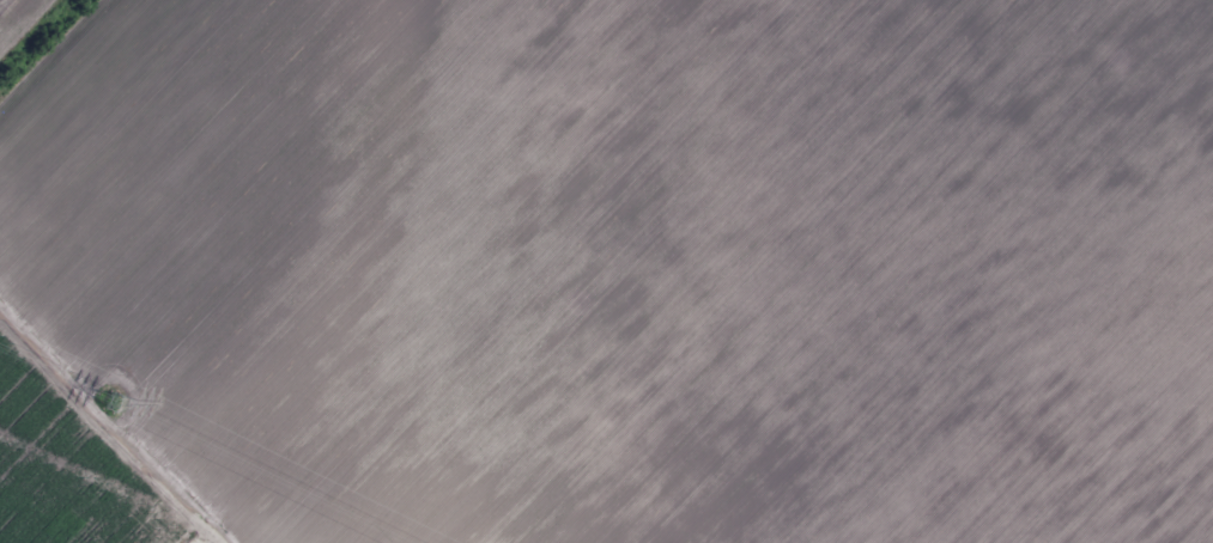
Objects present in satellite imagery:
road: (96, 352)
power tower: (113, 399)

